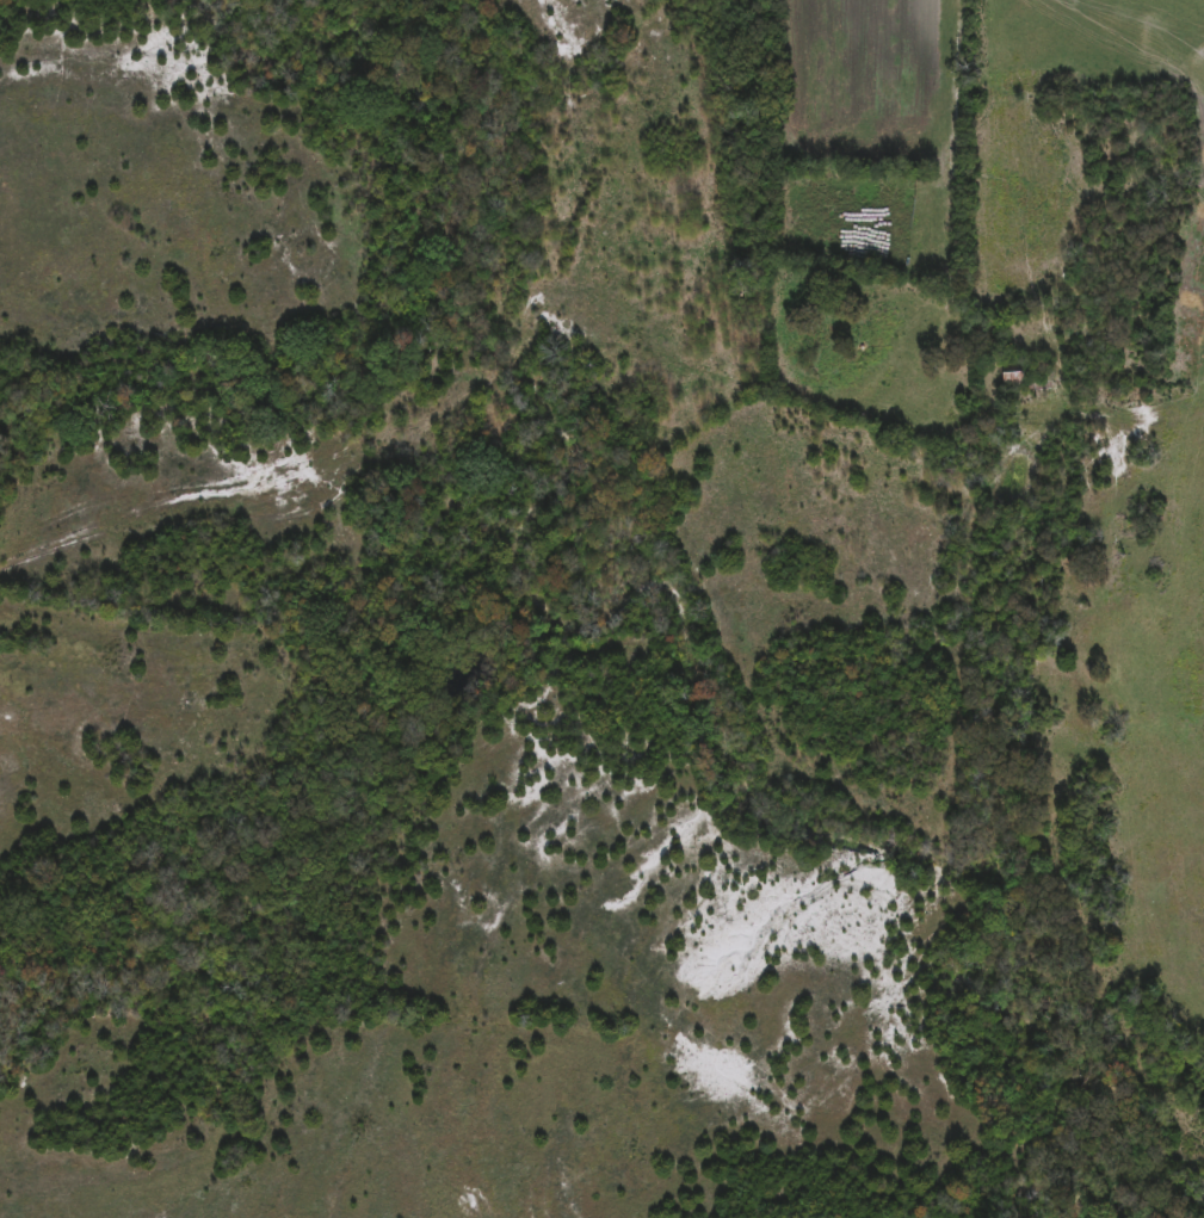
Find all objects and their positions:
road: (957, 57)
building: (1020, 377)

